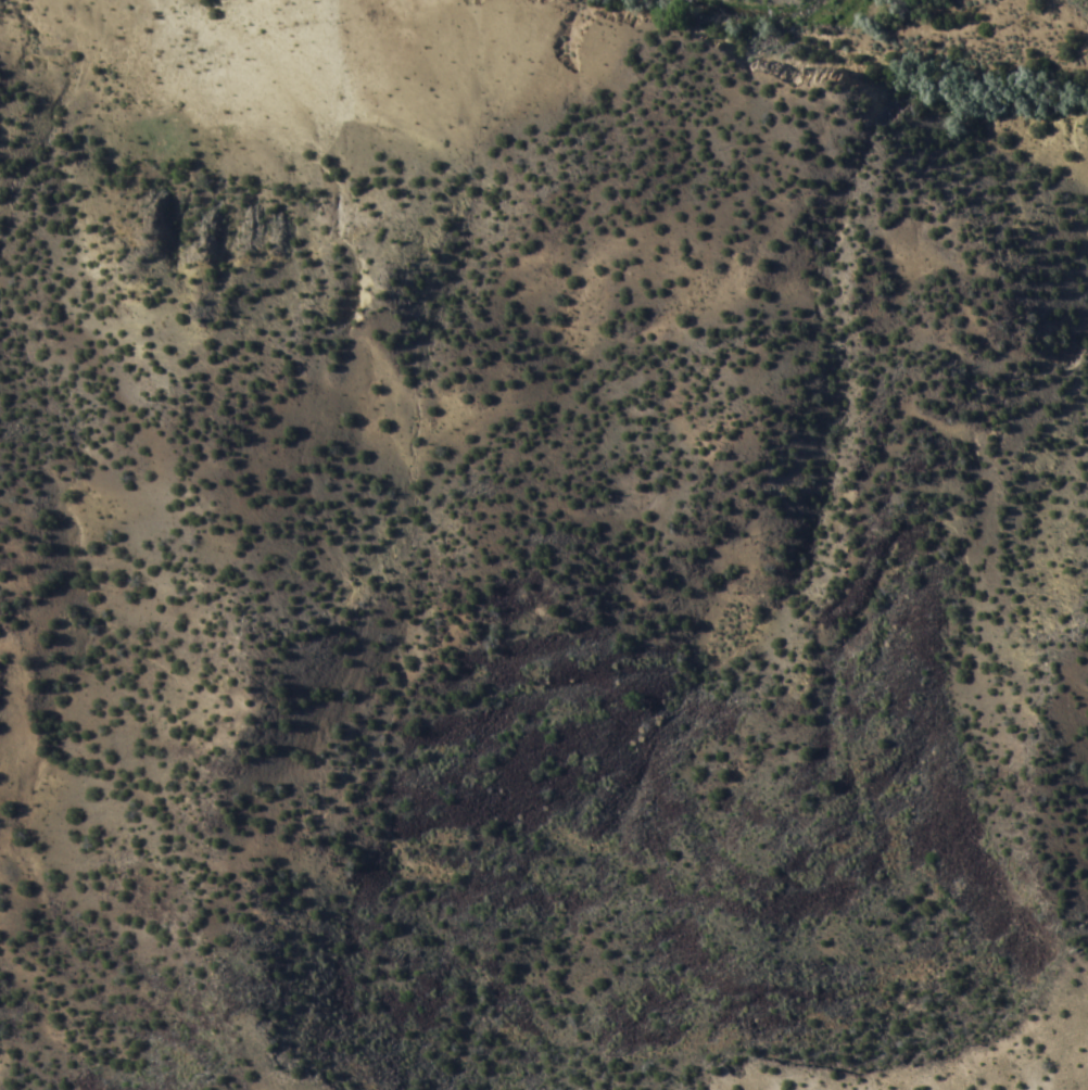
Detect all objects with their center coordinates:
river: (670, 8)
road: (421, 128)

